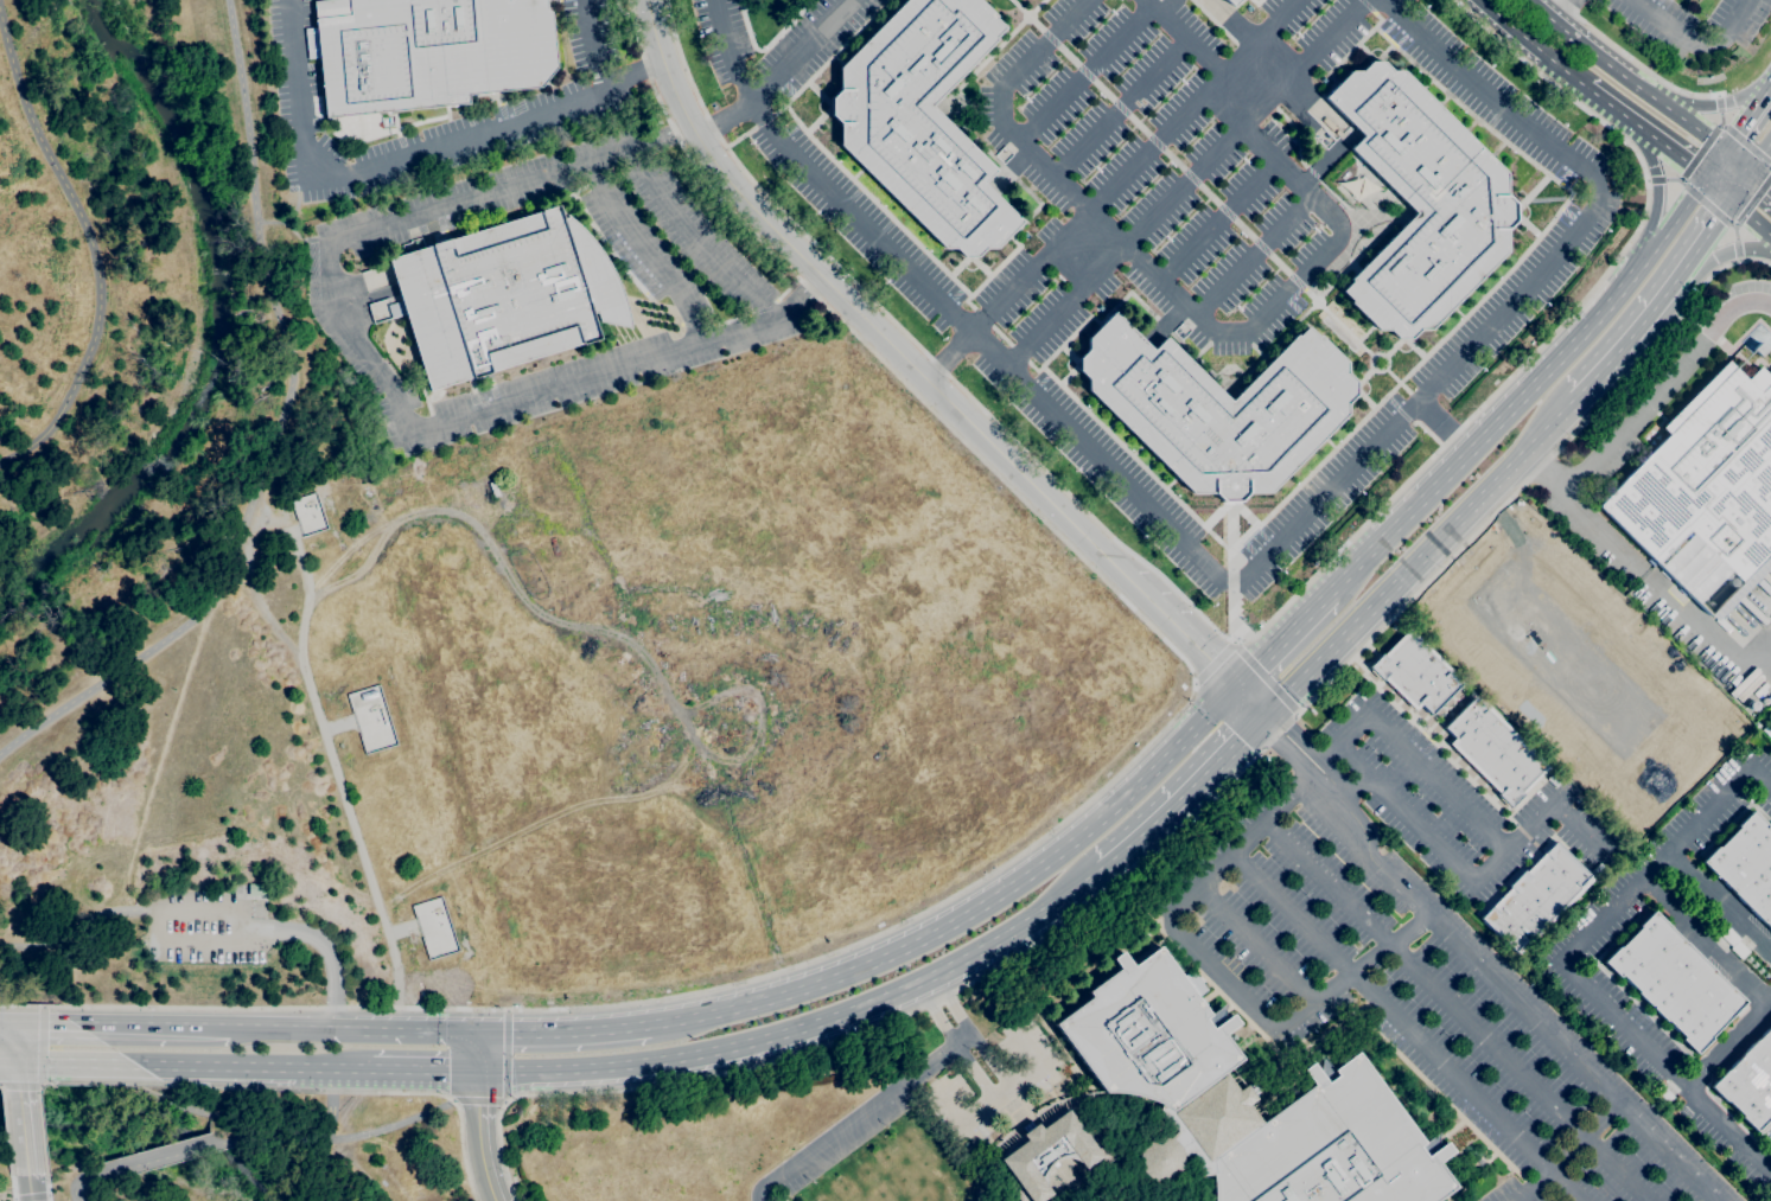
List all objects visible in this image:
building: (1231, 2)
road: (1562, 11)
road: (1696, 41)
road: (1533, 44)
road: (595, 47)
building: (428, 51)
road: (1633, 60)
road: (784, 72)
road: (1085, 76)
road: (1624, 77)
road: (1718, 96)
road: (1715, 103)
road: (1117, 106)
road: (1747, 117)
building: (923, 120)
building: (1332, 127)
road: (1658, 141)
road: (1707, 141)
road: (1745, 143)
road: (410, 155)
road: (1760, 155)
parking lot: (1164, 158)
road: (1715, 164)
road: (1747, 170)
road: (1648, 180)
road: (1187, 185)
road: (1113, 187)
road: (1695, 194)
building: (1422, 202)
road: (1655, 202)
road: (1745, 215)
road: (1751, 217)
road: (1217, 222)
road: (1712, 226)
road: (1667, 228)
road: (695, 238)
park: (66, 249)
road: (91, 253)
road: (644, 254)
road: (1719, 254)
road: (1254, 257)
road: (1739, 260)
building: (505, 295)
building: (397, 309)
river: (217, 324)
road: (1218, 338)
road: (1627, 343)
building: (1758, 349)
road: (380, 369)
road: (930, 376)
road: (1665, 389)
building: (1218, 408)
road: (1444, 427)
road: (274, 432)
road: (1482, 440)
building: (1707, 480)
building: (493, 490)
road: (273, 512)
road: (1422, 556)
road: (1648, 574)
road: (1244, 577)
road: (261, 601)
road: (1247, 637)
road: (1283, 638)
road: (1213, 662)
building: (1416, 673)
road: (1264, 677)
building: (1760, 689)
building: (368, 695)
building: (382, 715)
road: (1346, 735)
road: (1317, 748)
building: (1492, 750)
road: (1299, 762)
road: (1215, 767)
road: (1438, 781)
road: (339, 782)
road: (1356, 786)
parking lot: (1441, 799)
road: (1076, 810)
road: (1406, 814)
road: (1536, 822)
road: (1173, 837)
road: (1132, 847)
building: (1746, 865)
road: (1364, 887)
building: (255, 889)
building: (1537, 899)
road: (1719, 905)
road: (974, 908)
road: (87, 920)
parking lot: (214, 928)
road: (289, 932)
building: (1142, 933)
road: (1706, 943)
building: (1734, 943)
road: (1256, 945)
road: (1563, 960)
road: (1218, 970)
building: (1674, 980)
building: (1195, 983)
road: (9, 997)
building: (1203, 1003)
road: (23, 1005)
road: (856, 1005)
road: (1517, 1005)
parking lot: (1420, 1007)
road: (1458, 1009)
road: (9, 1020)
traffic signals: (19, 1021)
road: (45, 1022)
road: (147, 1023)
road: (291, 1024)
road: (1407, 1027)
road: (419, 1030)
traffic signals: (478, 1033)
road: (562, 1033)
road: (18, 1041)
road: (40, 1046)
road: (1729, 1046)
road: (478, 1050)
road: (93, 1053)
road: (504, 1055)
traffic signals: (18, 1061)
road: (68, 1061)
road: (215, 1065)
road: (333, 1068)
road: (425, 1068)
traffic signals: (478, 1068)
road: (530, 1069)
road: (60, 1081)
road: (996, 1081)
building: (1748, 1081)
road: (19, 1085)
road: (362, 1090)
building: (1663, 1094)
road: (888, 1098)
road: (477, 1099)
building: (1244, 1101)
road: (330, 1103)
road: (20, 1113)
road: (229, 1117)
road: (5, 1127)
road: (1451, 1131)
road: (370, 1132)
river: (147, 1135)
road: (480, 1135)
road: (251, 1139)
parking lot: (841, 1151)
road: (996, 1152)
building: (1051, 1154)
road: (164, 1155)
road: (1567, 1156)
road: (1769, 1162)
road: (374, 1169)
road: (82, 1178)
road: (11, 1183)
road: (28, 1183)
road: (46, 1183)
road: (30, 1197)
road: (69, 1199)

